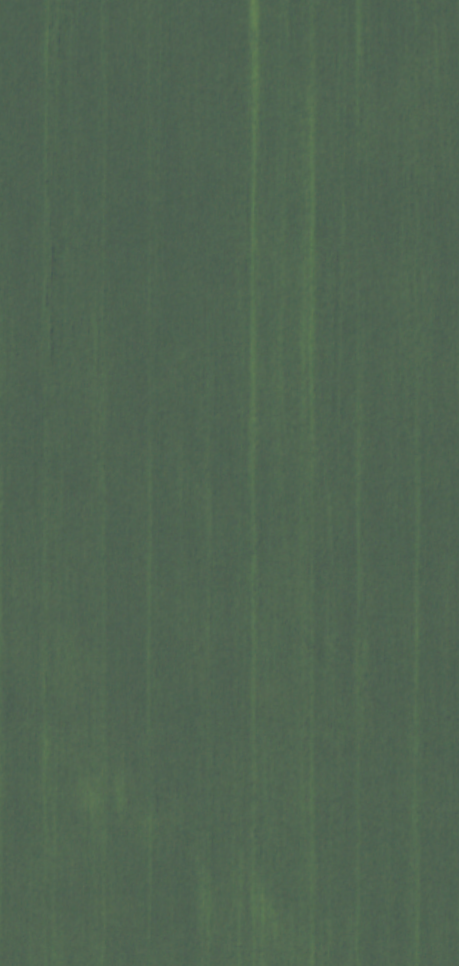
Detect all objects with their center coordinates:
crop: (229, 483)

